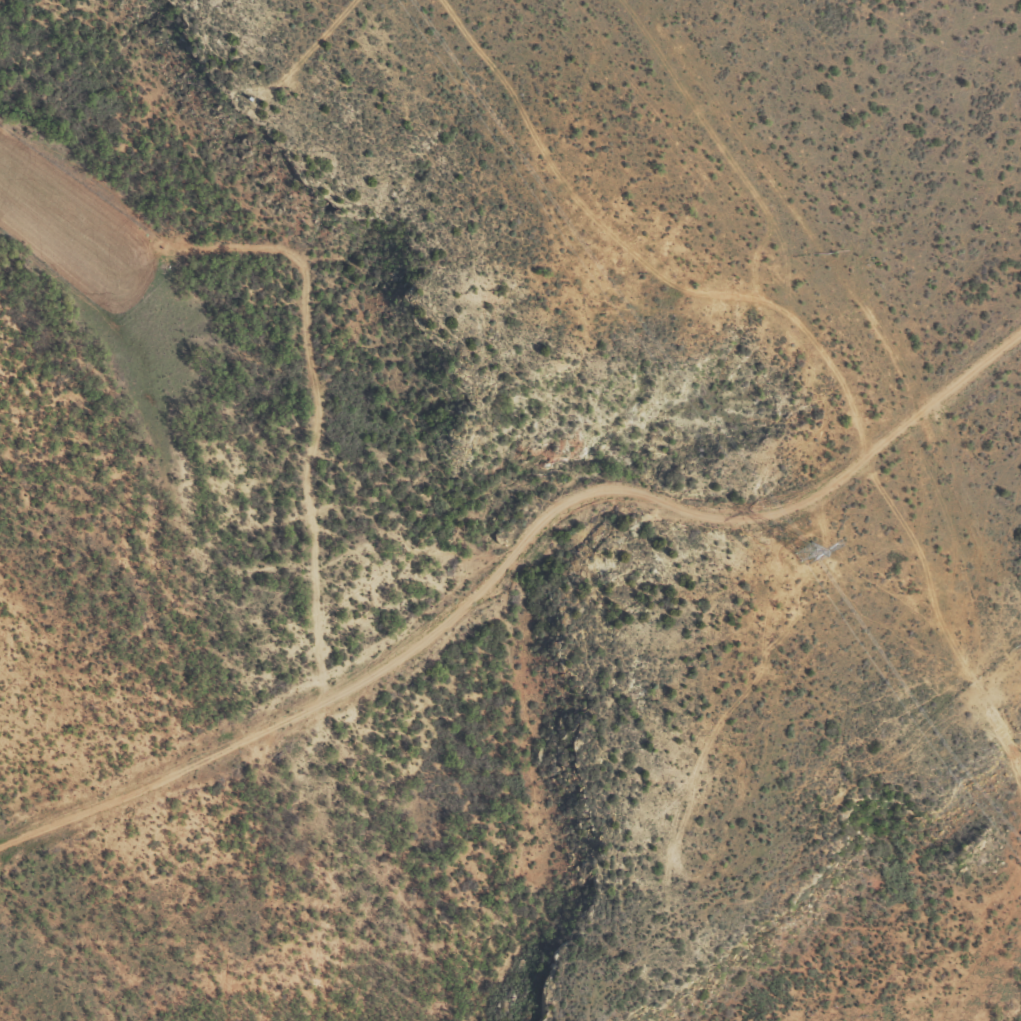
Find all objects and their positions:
power tower: (802, 550)

